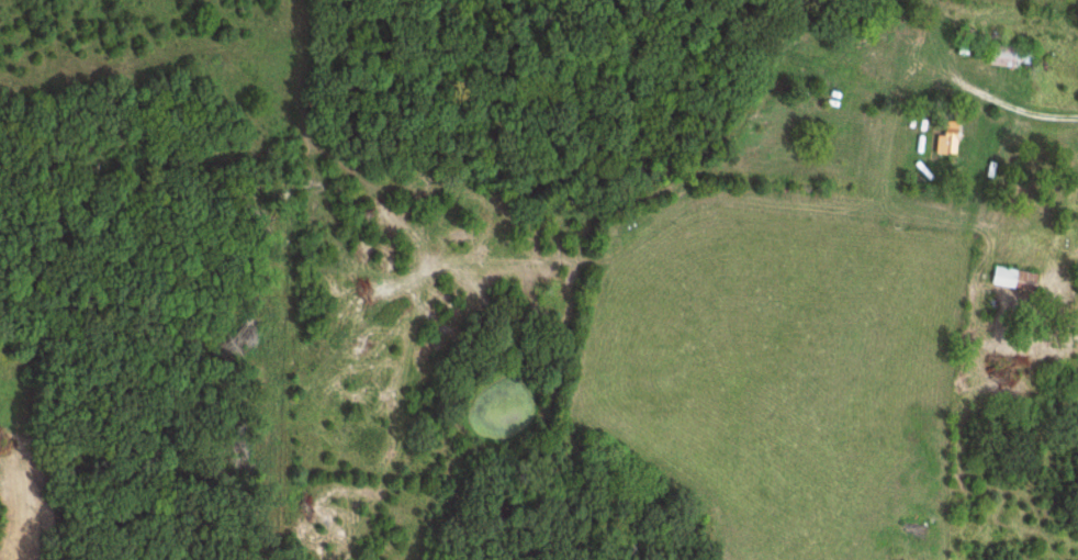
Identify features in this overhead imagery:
road: (1020, 110)

